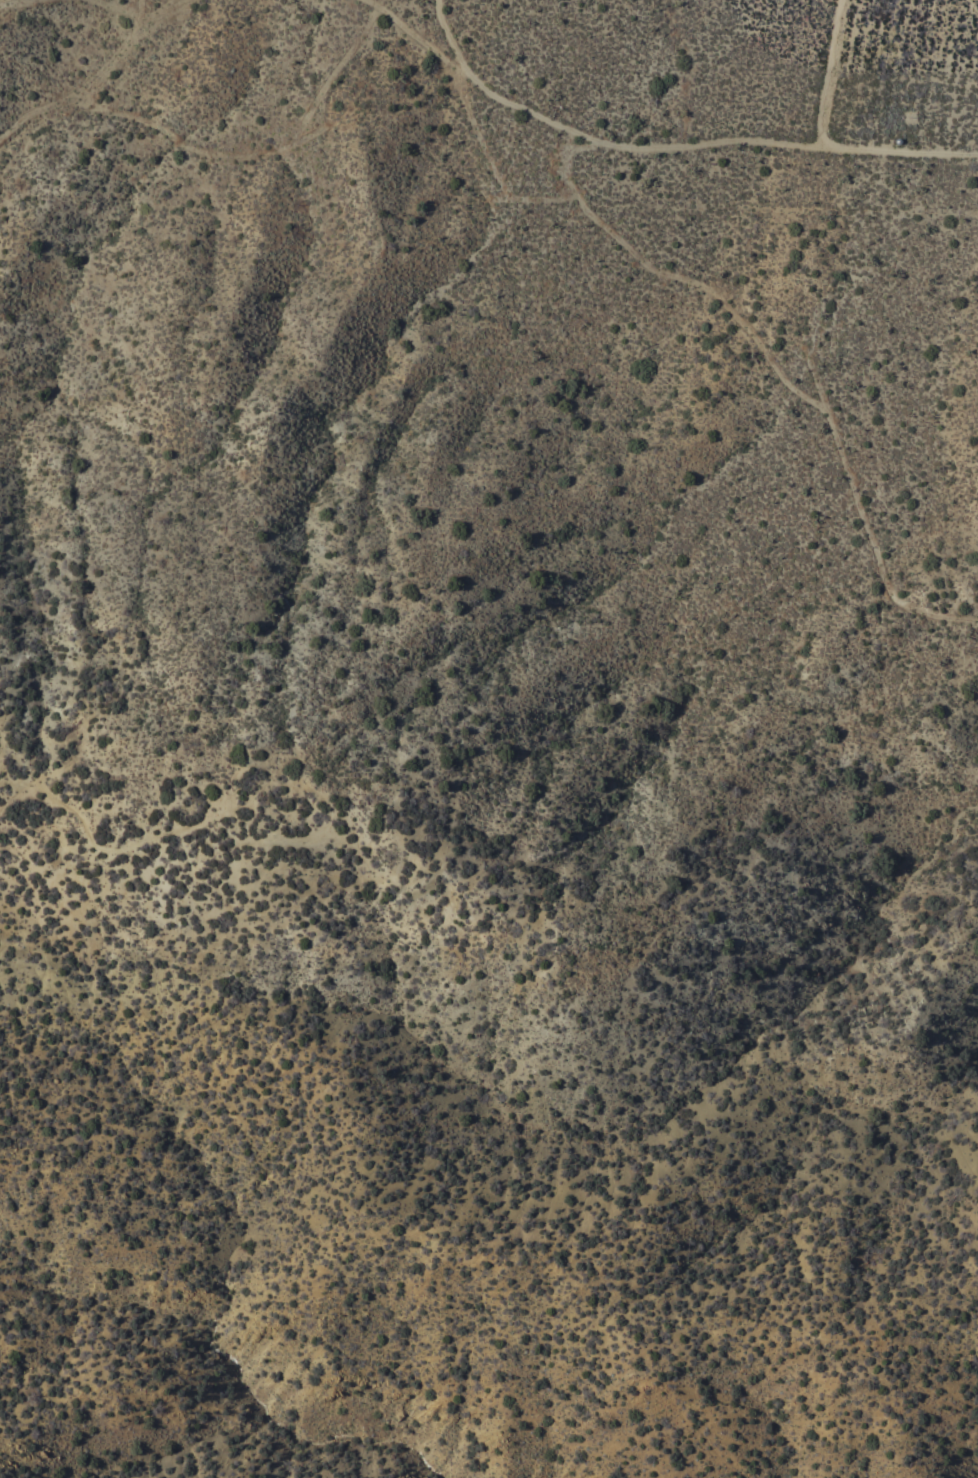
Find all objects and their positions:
crop: (906, 77)

